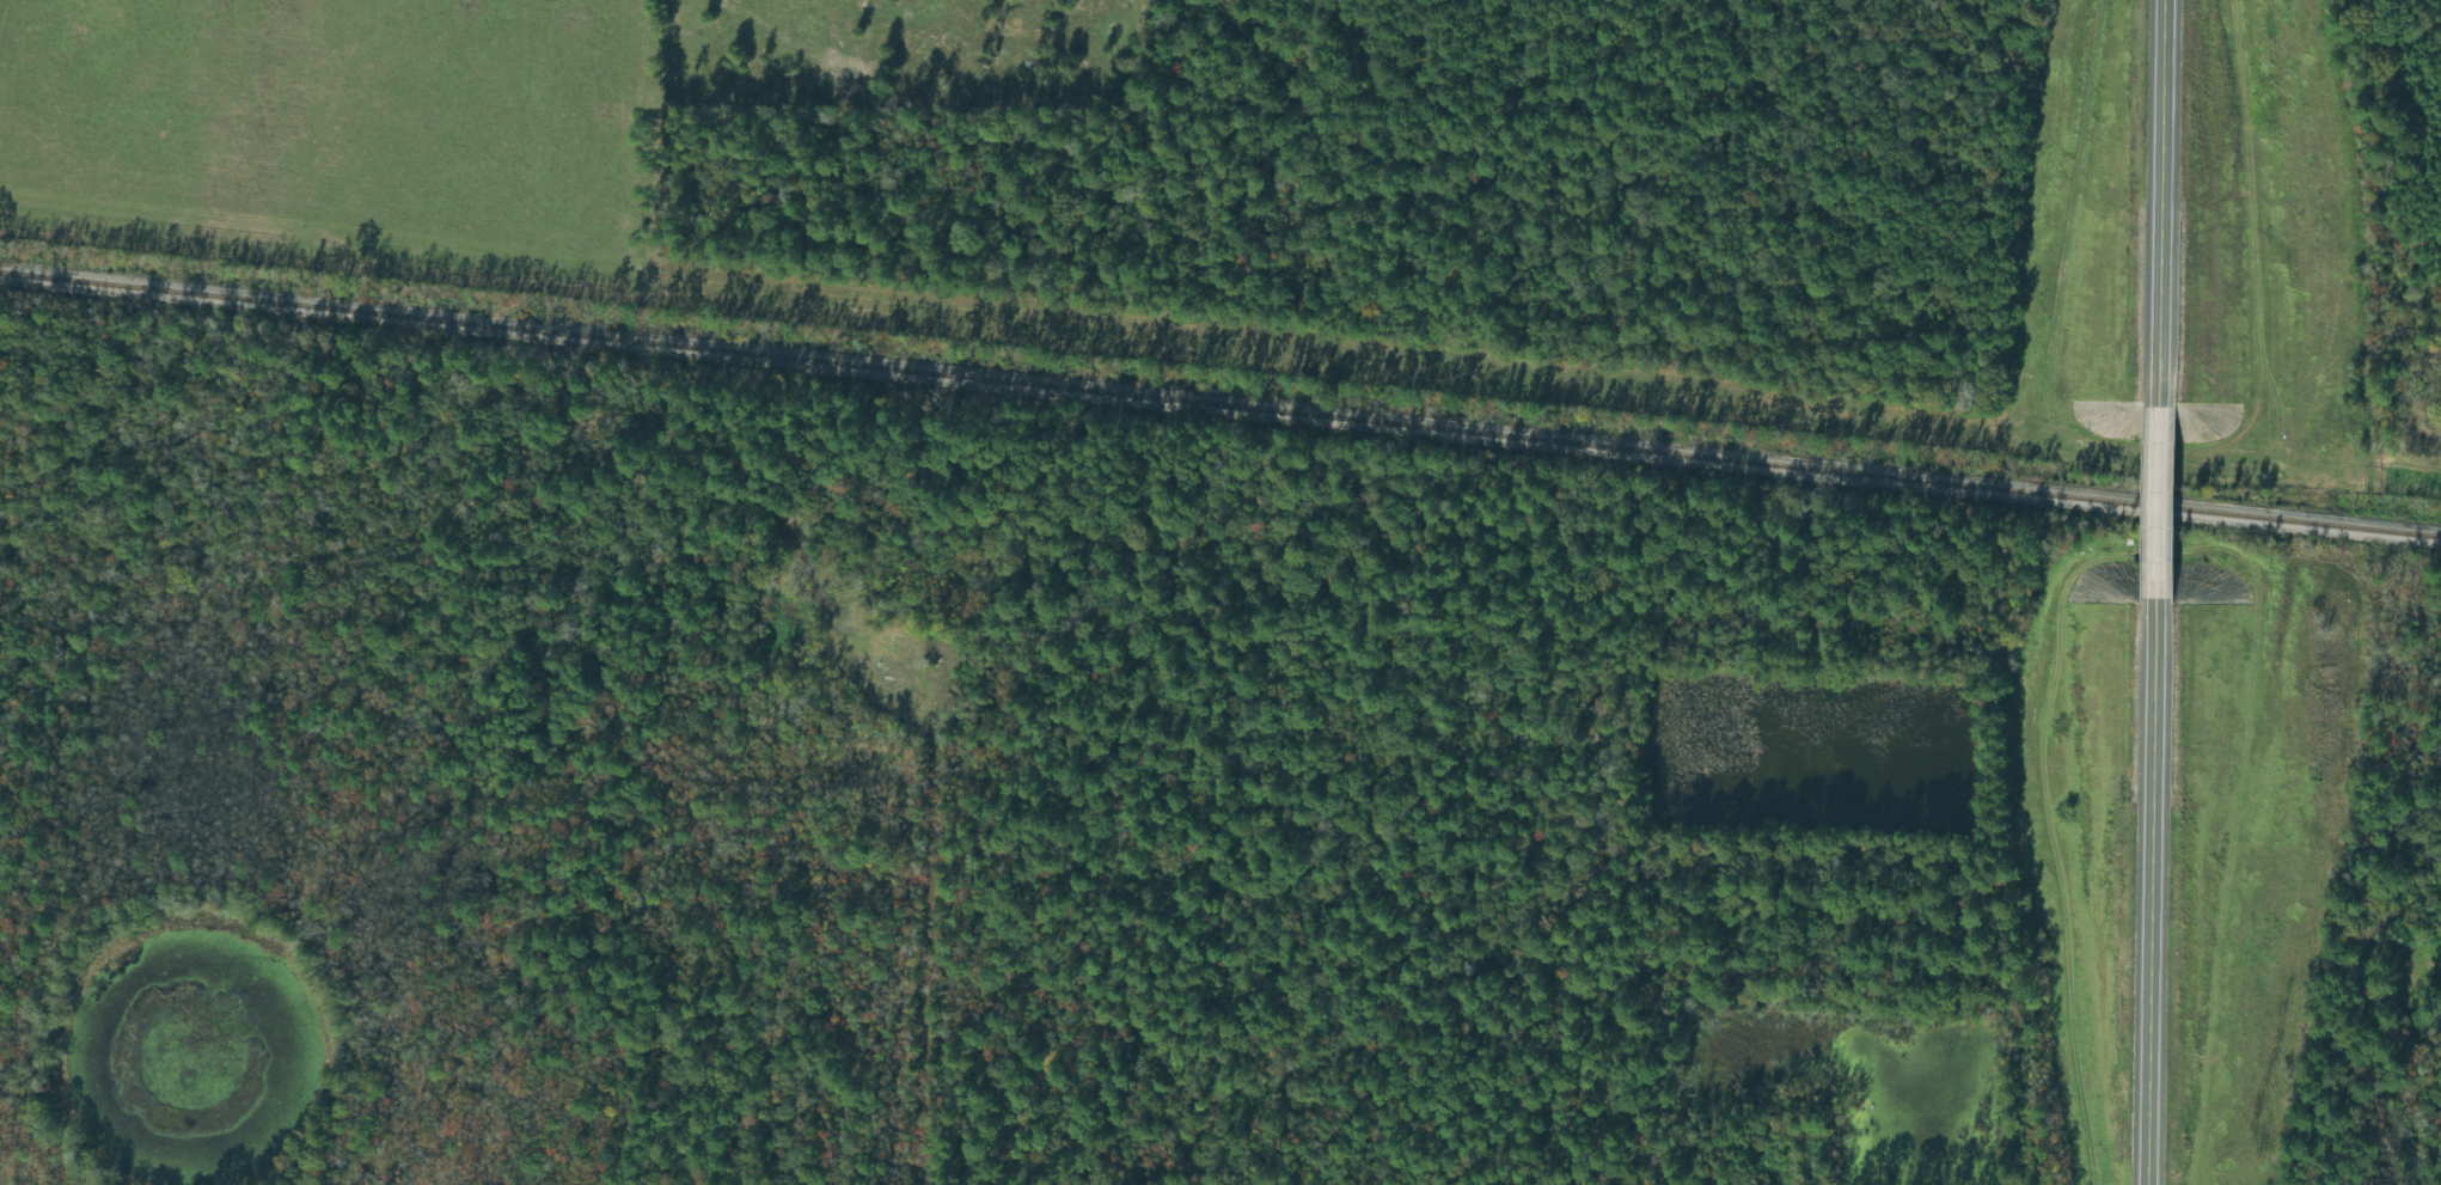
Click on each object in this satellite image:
road: (2165, 202)
railway: (1219, 404)
road: (2160, 503)
road: (2154, 894)
road: (2386, 934)
road: (894, 972)

